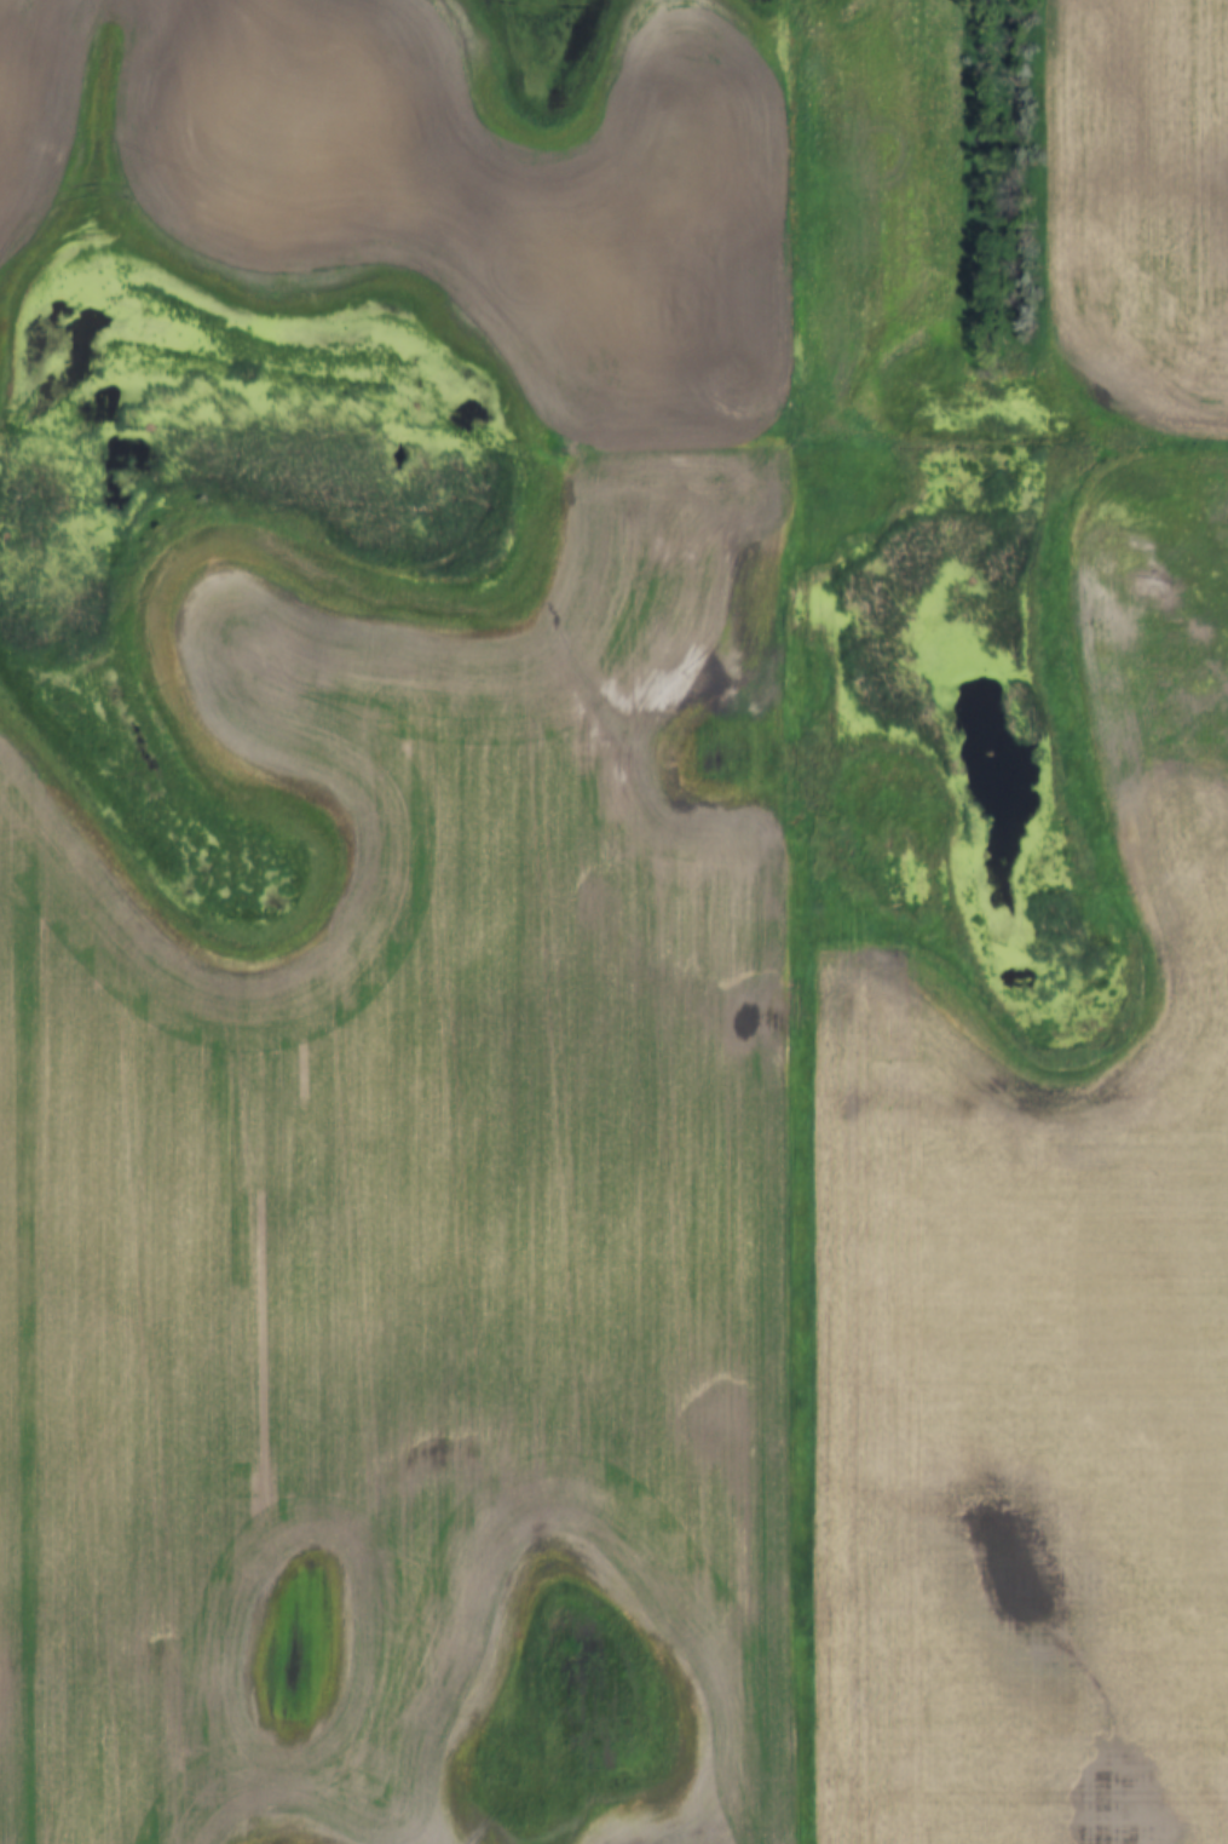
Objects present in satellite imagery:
road: (800, 921)

